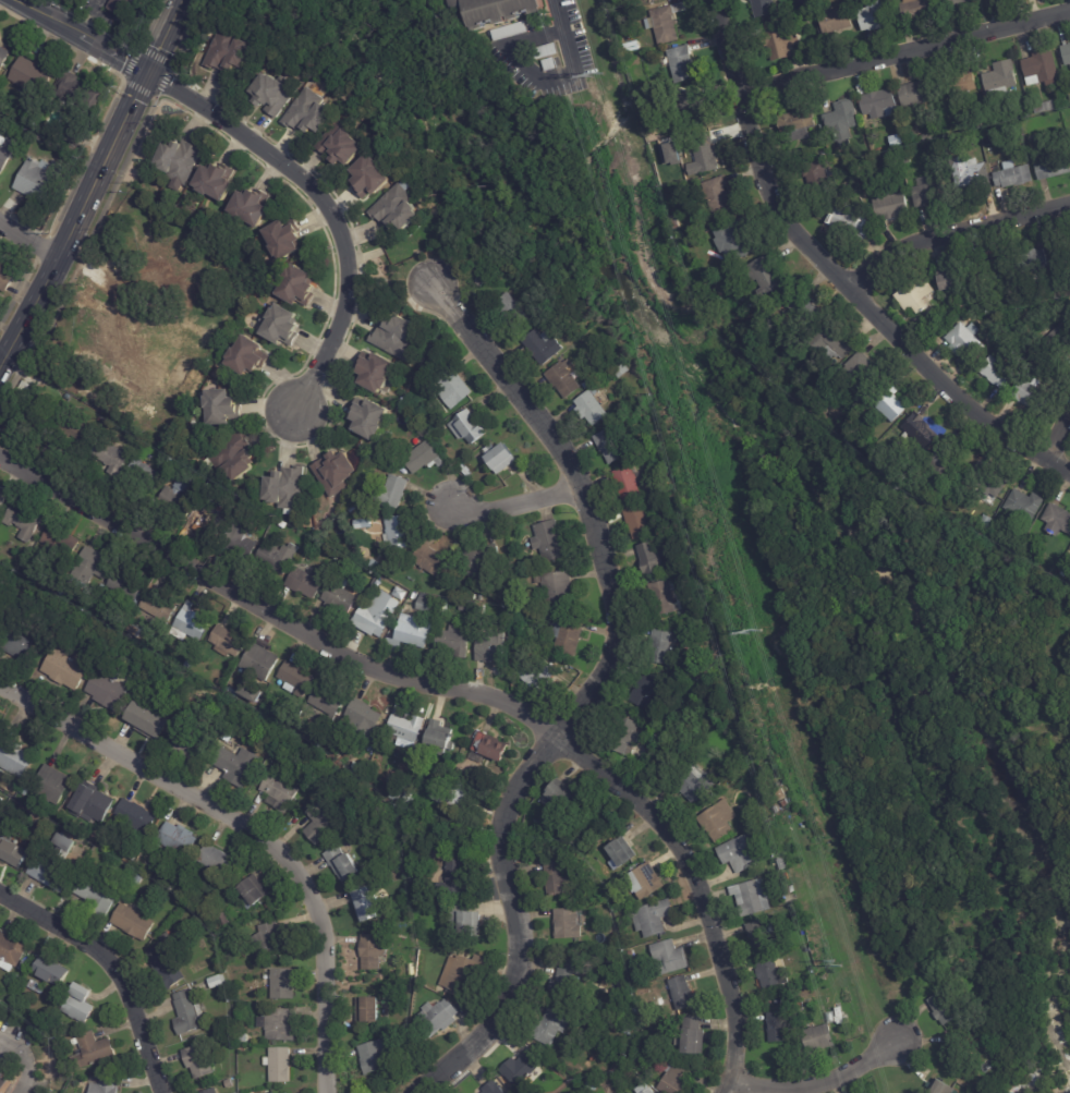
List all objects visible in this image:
building: (741, 0)
building: (947, 3)
building: (122, 4)
building: (762, 8)
building: (915, 9)
building: (499, 10)
building: (871, 15)
building: (664, 23)
building: (830, 25)
building: (774, 38)
road: (75, 40)
building: (223, 48)
building: (815, 51)
road: (907, 54)
building: (1065, 54)
building: (4, 59)
building: (684, 64)
building: (1037, 68)
power tower: (589, 71)
road: (567, 75)
building: (997, 77)
building: (36, 80)
traffic signals: (144, 81)
building: (964, 84)
building: (277, 90)
building: (643, 92)
building: (81, 94)
building: (911, 95)
building: (695, 99)
building: (875, 105)
building: (1042, 107)
building: (312, 110)
building: (838, 121)
building: (31, 122)
building: (791, 126)
building: (25, 132)
building: (77, 135)
building: (343, 141)
building: (895, 141)
building: (1032, 143)
building: (706, 150)
building: (946, 150)
building: (7, 151)
building: (903, 160)
building: (70, 161)
building: (180, 161)
building: (666, 167)
building: (1049, 167)
building: (374, 174)
building: (968, 174)
building: (1009, 177)
building: (814, 179)
building: (40, 180)
building: (217, 181)
road: (93, 185)
building: (850, 186)
building: (926, 192)
building: (718, 195)
building: (252, 205)
building: (401, 206)
building: (886, 207)
road: (326, 209)
building: (677, 222)
building: (846, 222)
road: (953, 234)
road: (29, 238)
building: (285, 239)
building: (740, 239)
building: (1063, 250)
building: (248, 259)
building: (1029, 263)
building: (767, 275)
road: (838, 276)
building: (7, 279)
building: (1033, 279)
building: (200, 280)
building: (949, 282)
road: (124, 286)
building: (302, 286)
road: (393, 286)
building: (1001, 290)
building: (911, 296)
building: (806, 307)
building: (511, 308)
building: (962, 309)
building: (947, 317)
building: (284, 326)
building: (400, 337)
building: (1058, 337)
building: (835, 341)
building: (963, 341)
building: (544, 345)
building: (250, 355)
building: (147, 357)
building: (377, 371)
building: (862, 372)
building: (994, 374)
building: (564, 378)
building: (591, 382)
building: (454, 387)
building: (27, 389)
building: (1029, 392)
building: (926, 400)
building: (891, 404)
building: (136, 405)
building: (224, 408)
building: (592, 408)
building: (370, 418)
building: (75, 425)
building: (470, 427)
building: (926, 430)
building: (908, 436)
road: (1057, 441)
building: (613, 445)
building: (235, 456)
building: (424, 456)
building: (112, 457)
building: (503, 457)
building: (945, 469)
building: (338, 472)
building: (146, 474)
building: (986, 481)
building: (631, 484)
building: (660, 488)
building: (287, 489)
building: (393, 493)
building: (1, 498)
building: (180, 499)
road: (515, 500)
building: (2, 505)
building: (1021, 505)
building: (207, 519)
building: (1056, 520)
building: (25, 521)
building: (641, 521)
building: (983, 521)
building: (284, 523)
building: (401, 532)
building: (53, 541)
building: (240, 541)
building: (551, 541)
building: (280, 557)
building: (337, 557)
building: (654, 557)
building: (434, 559)
building: (478, 562)
building: (377, 563)
building: (94, 564)
park: (755, 570)
building: (1061, 573)
building: (308, 582)
building: (127, 584)
building: (56, 585)
building: (558, 586)
building: (65, 591)
building: (403, 592)
building: (341, 595)
building: (415, 595)
building: (670, 596)
building: (427, 605)
building: (160, 606)
building: (467, 606)
building: (483, 608)
building: (375, 620)
building: (3, 624)
building: (191, 624)
building: (52, 629)
power tower: (755, 632)
building: (413, 633)
building: (62, 635)
building: (137, 635)
building: (570, 635)
building: (228, 641)
building: (457, 641)
building: (22, 643)
building: (667, 647)
building: (500, 649)
building: (260, 661)
building: (189, 664)
building: (69, 668)
building: (542, 676)
building: (296, 679)
building: (108, 689)
road: (457, 691)
building: (654, 691)
building: (253, 692)
road: (585, 696)
building: (328, 701)
building: (264, 709)
building: (154, 715)
building: (364, 718)
building: (406, 725)
building: (442, 732)
building: (656, 732)
building: (230, 734)
building: (630, 737)
building: (191, 741)
building: (487, 751)
building: (14, 756)
building: (235, 765)
building: (361, 765)
building: (358, 773)
building: (464, 773)
building: (697, 784)
building: (53, 785)
building: (13, 789)
building: (281, 789)
building: (455, 793)
building: (396, 794)
building: (409, 798)
building: (562, 800)
building: (1, 801)
building: (94, 804)
building: (135, 814)
building: (537, 815)
building: (720, 821)
building: (323, 823)
building: (552, 823)
road: (252, 829)
building: (180, 839)
building: (393, 850)
building: (13, 851)
building: (745, 851)
building: (625, 852)
building: (132, 857)
building: (219, 860)
building: (344, 864)
building: (782, 864)
building: (57, 865)
building: (787, 876)
building: (139, 878)
building: (460, 878)
building: (561, 878)
building: (442, 881)
building: (416, 882)
building: (647, 882)
building: (254, 891)
building: (615, 891)
building: (790, 894)
building: (441, 896)
building: (99, 897)
building: (754, 897)
building: (368, 902)
building: (655, 918)
building: (226, 919)
building: (466, 920)
building: (134, 923)
building: (569, 924)
building: (762, 935)
building: (167, 937)
building: (275, 939)
building: (12, 949)
building: (375, 951)
building: (634, 955)
building: (671, 958)
building: (24, 966)
building: (167, 966)
road: (110, 968)
building: (53, 971)
building: (464, 975)
building: (774, 975)
building: (801, 976)
building: (218, 982)
building: (569, 983)
building: (284, 984)
building: (38, 987)
building: (627, 991)
building: (647, 991)
building: (685, 994)
building: (787, 998)
building: (81, 1004)
building: (802, 1006)
building: (361, 1007)
building: (612, 1008)
building: (940, 1008)
building: (634, 1011)
building: (191, 1013)
building: (841, 1017)
building: (439, 1018)
building: (59, 1024)
building: (279, 1024)
building: (554, 1027)
building: (780, 1027)
building: (630, 1031)
building: (696, 1036)
building: (244, 1039)
building: (680, 1040)
building: (820, 1040)
building: (234, 1045)
building: (957, 1051)
building: (94, 1052)
building: (378, 1055)
building: (635, 1058)
building: (200, 1061)
building: (273, 1062)
road: (19, 1065)
building: (522, 1069)
building: (628, 1072)
building: (677, 1077)
road: (815, 1081)
building: (4, 1082)
building: (229, 1084)
building: (106, 1085)
building: (496, 1088)
building: (605, 1088)
road: (726, 1088)
building: (939, 1088)
building: (214, 1091)
building: (648, 1091)
building: (282, 1092)

